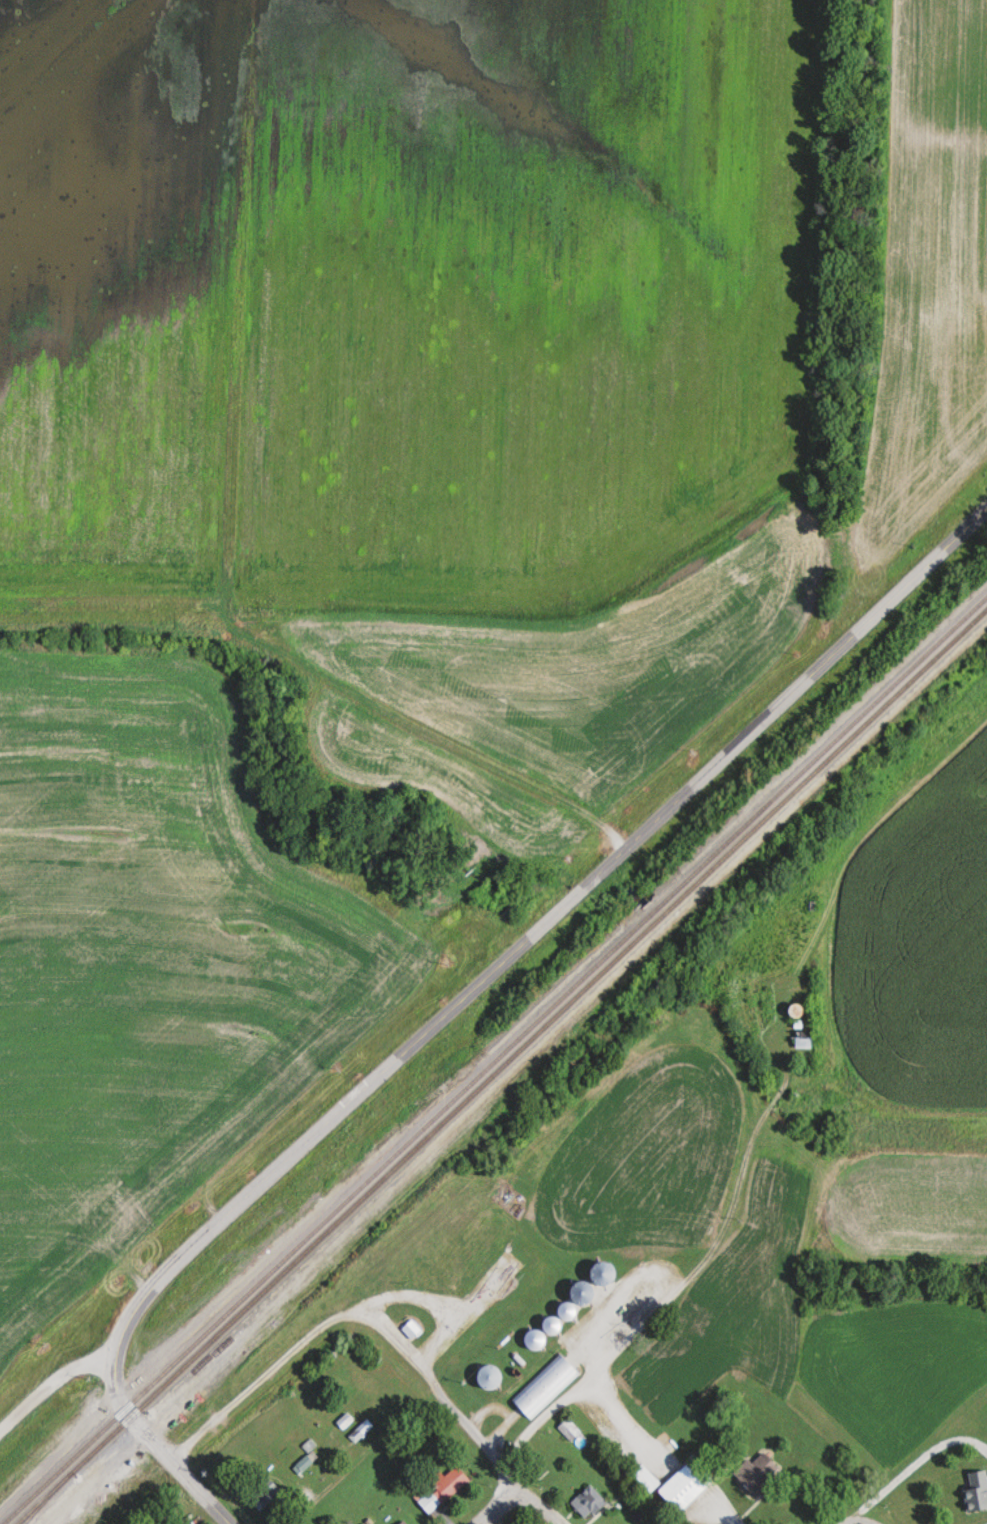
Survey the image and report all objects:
road: (429, 727)
road: (530, 934)
railway: (549, 1039)
building: (805, 1043)
railway: (495, 1060)
railway: (503, 1068)
road: (783, 1083)
road: (775, 1097)
road: (884, 1109)
railway: (332, 1255)
building: (608, 1273)
building: (589, 1293)
road: (663, 1305)
building: (494, 1377)
road: (255, 1380)
road: (51, 1382)
road: (436, 1390)
building: (538, 1391)
building: (570, 1430)
building: (361, 1431)
road: (169, 1457)
building: (761, 1472)
building: (648, 1477)
building: (689, 1485)
building: (445, 1490)
building: (977, 1492)
building: (267, 1493)
railway: (48, 1498)
building: (590, 1501)
road: (495, 1503)
road: (537, 1503)
road: (853, 1521)
building: (400, 1522)

